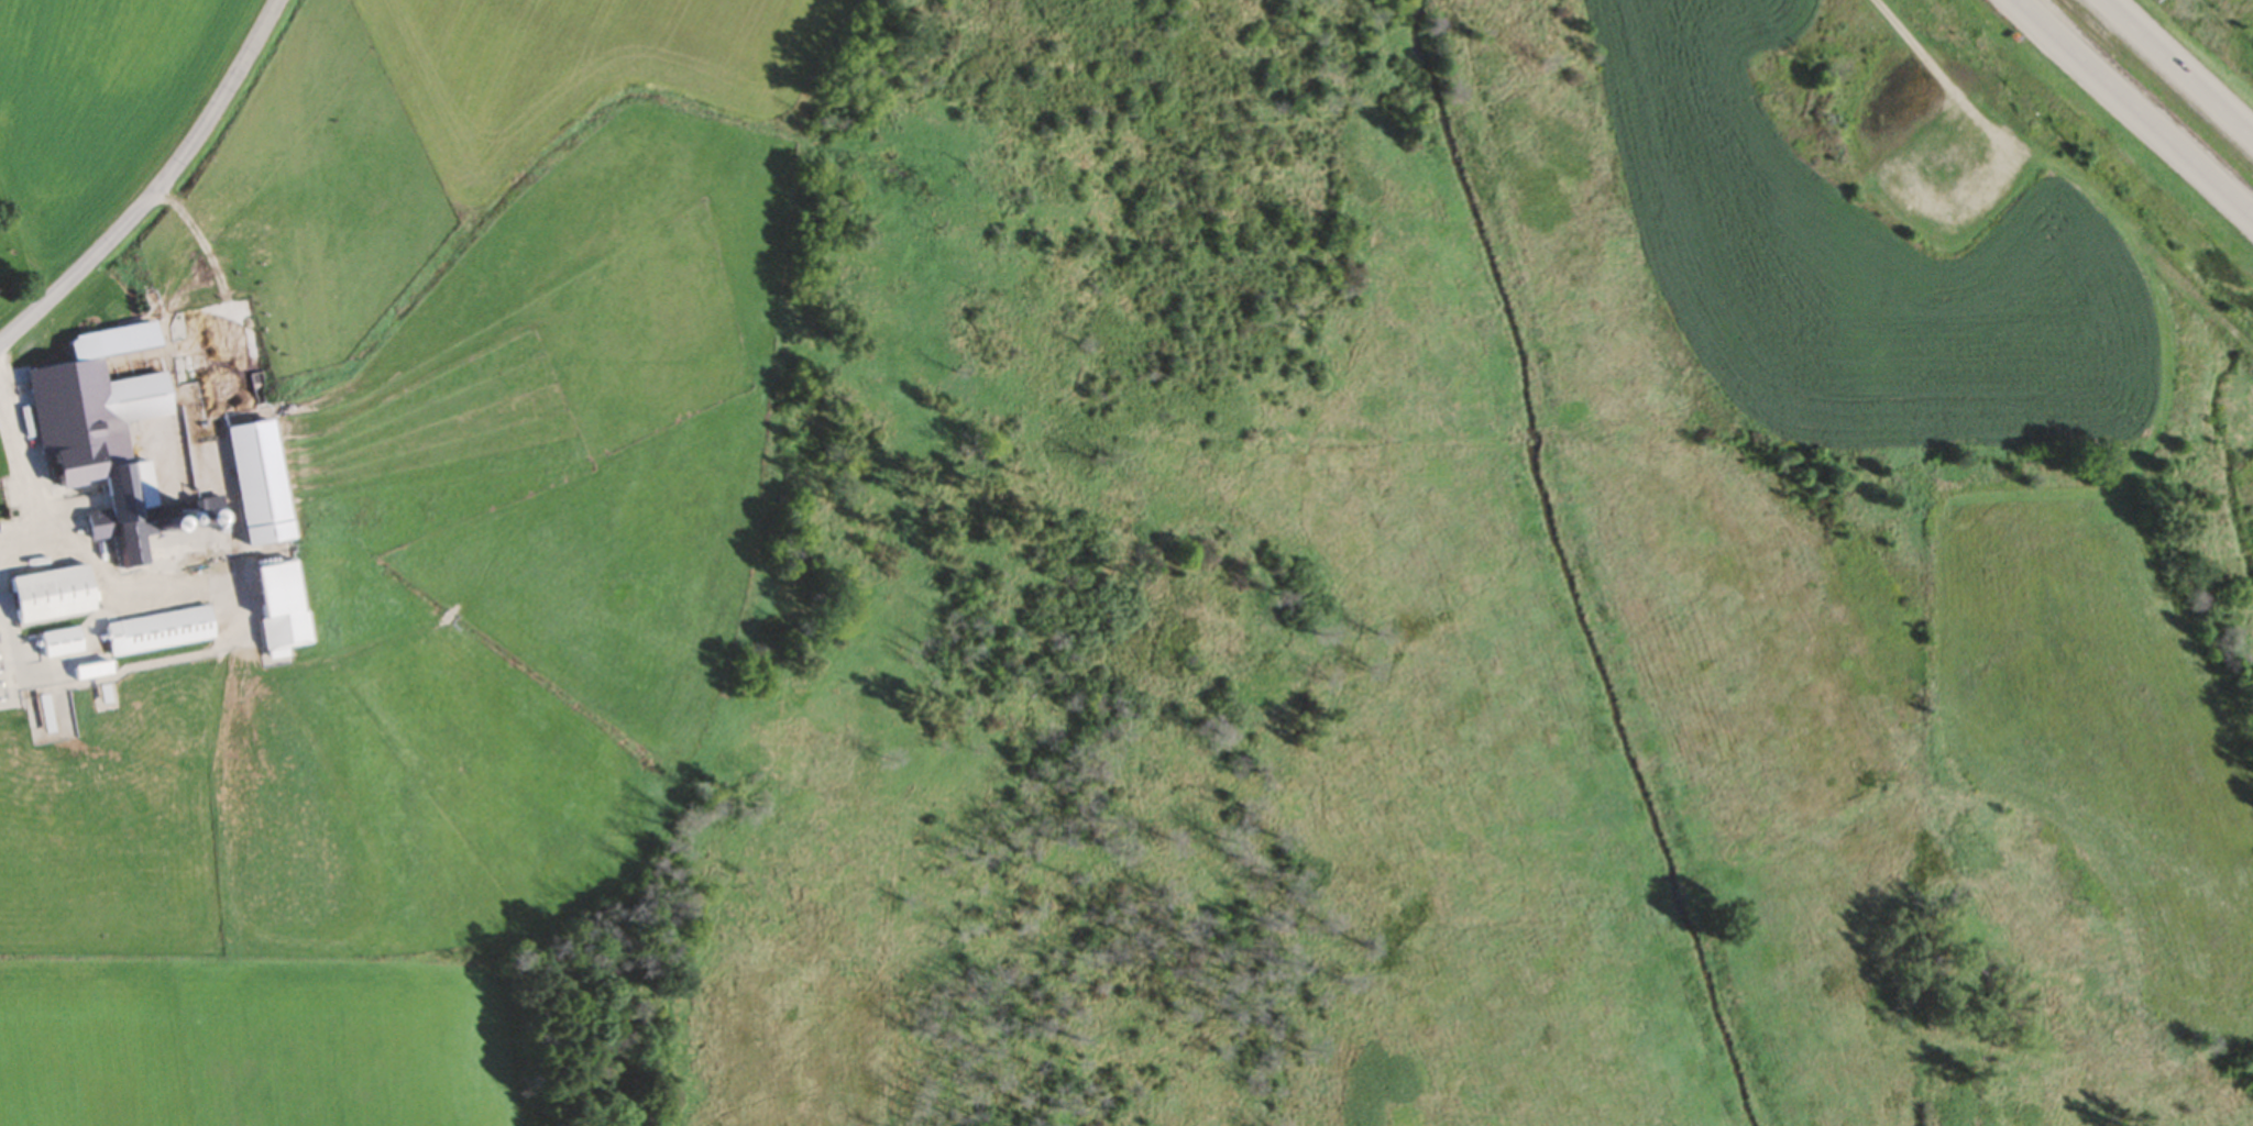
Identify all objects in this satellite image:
road: (2175, 70)
road: (2137, 108)
road: (160, 189)
building: (120, 437)
building: (254, 484)
road: (44, 487)
building: (19, 495)
building: (51, 596)
building: (158, 633)
building: (61, 644)

